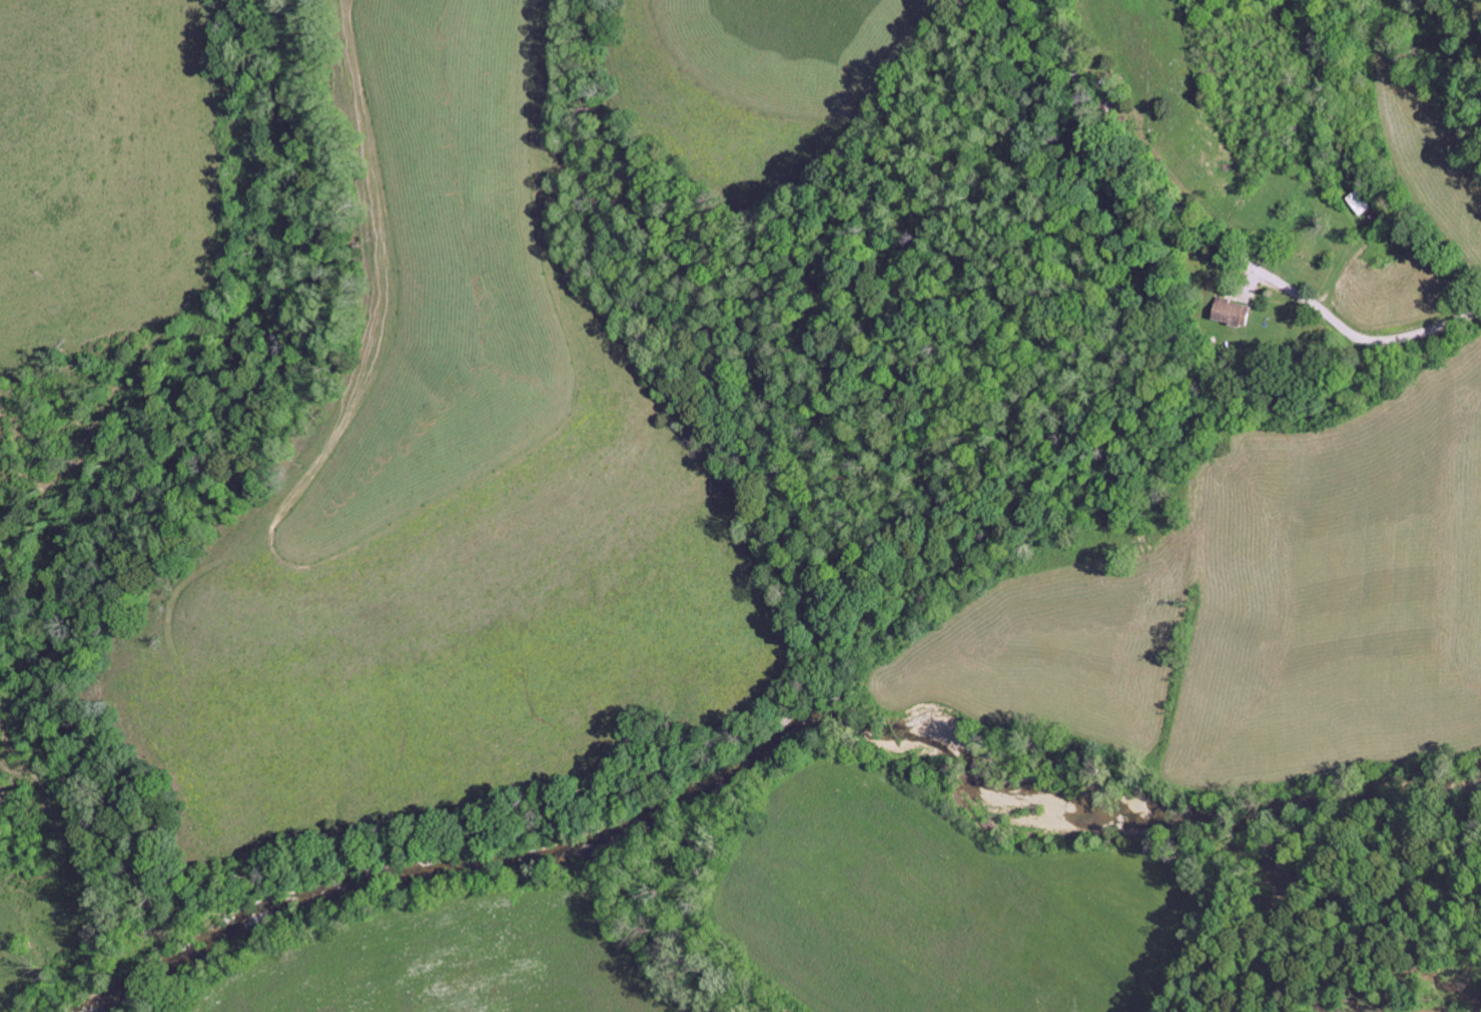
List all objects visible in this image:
road: (1219, 244)

